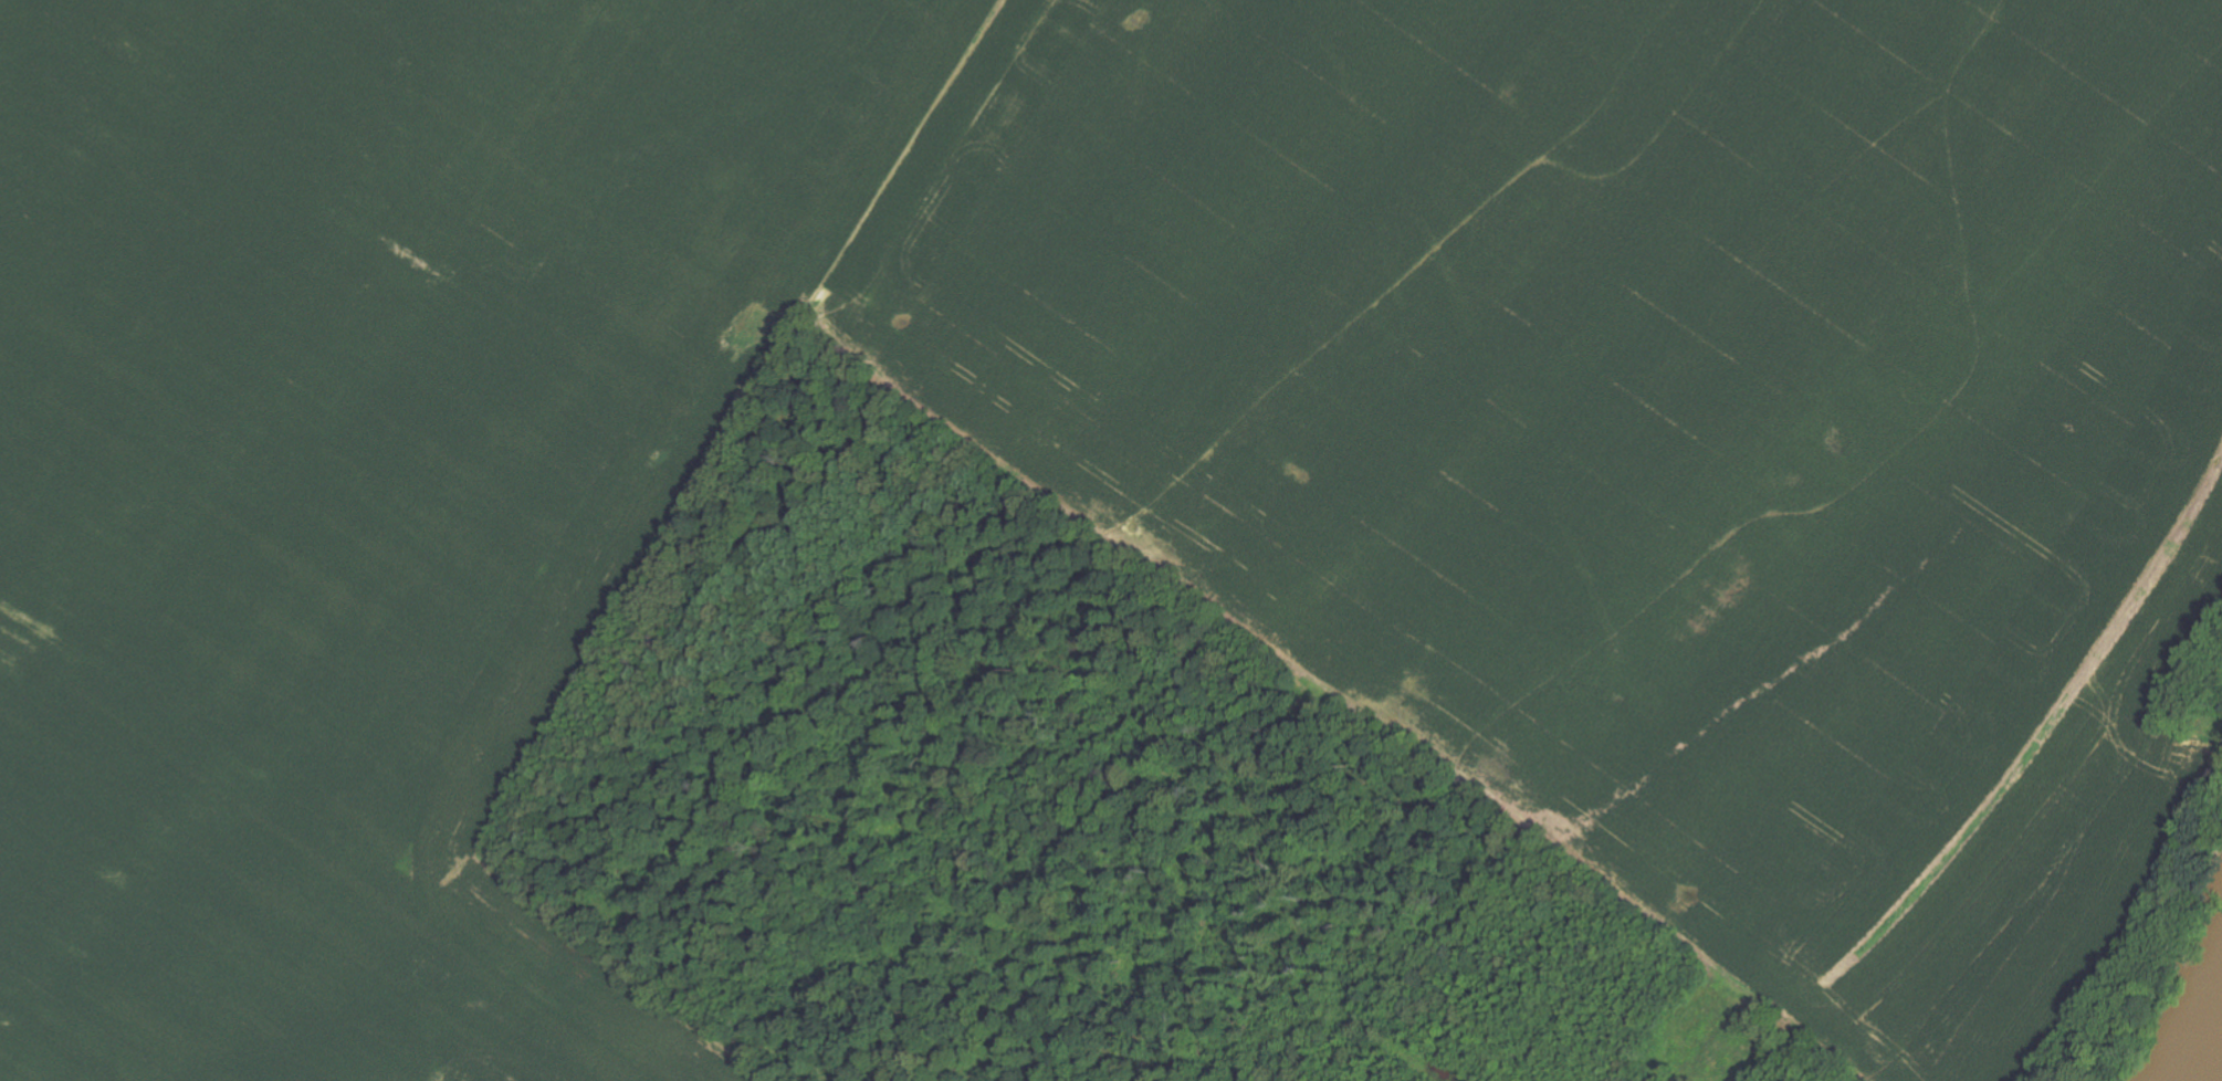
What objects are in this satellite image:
river: (2215, 1070)

